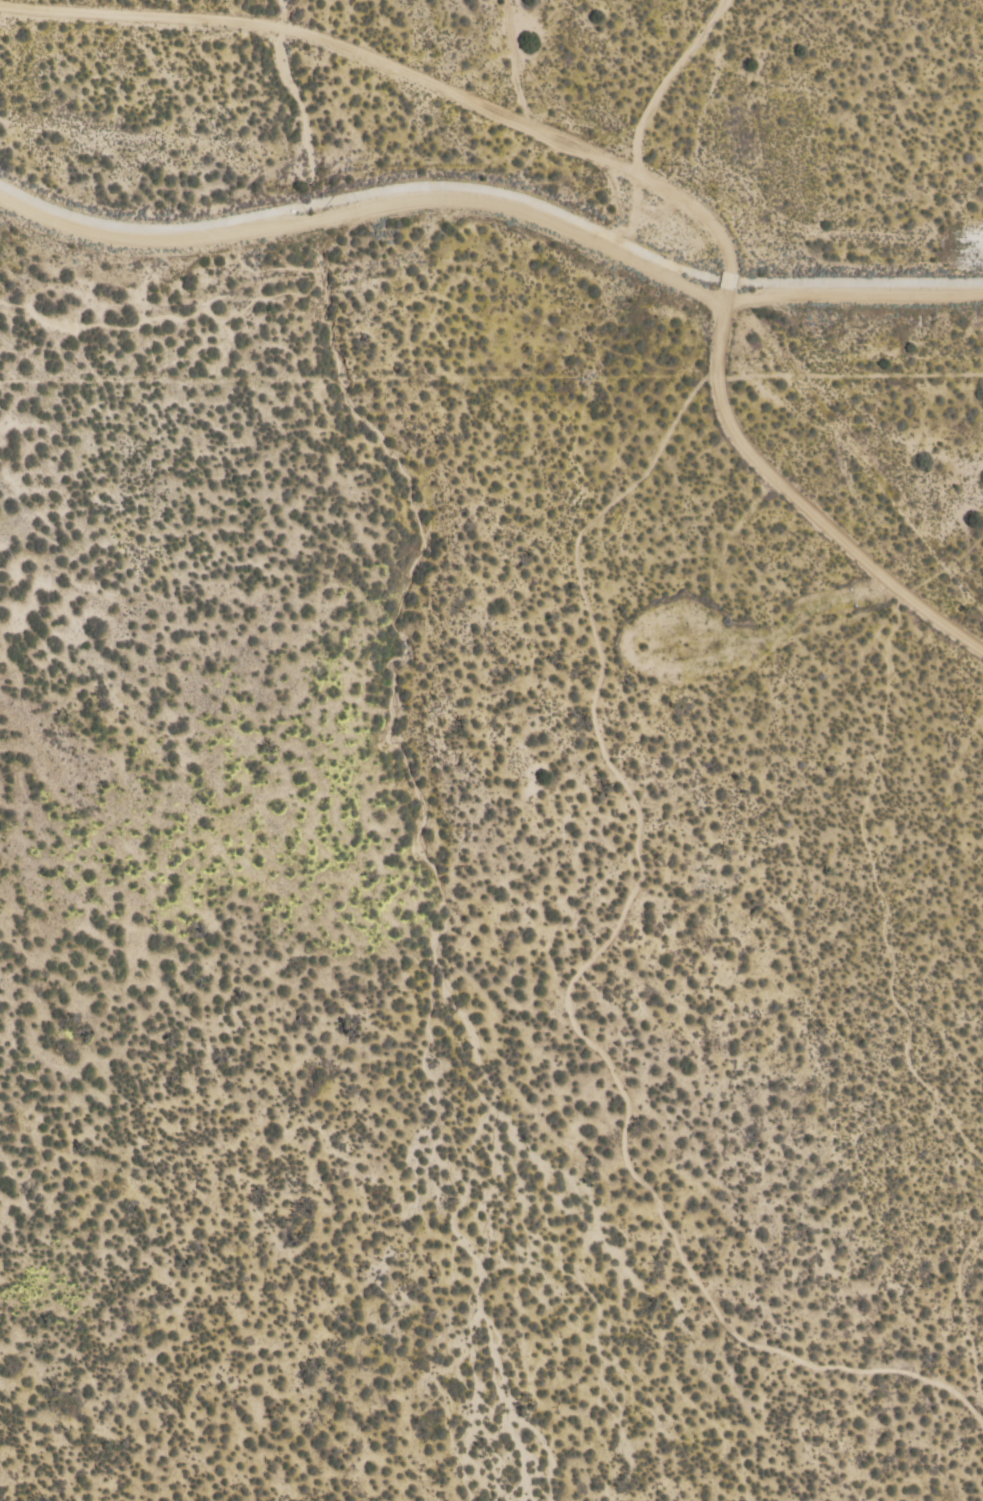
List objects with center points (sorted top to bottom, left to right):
road: (15, 26)
road: (367, 71)
road: (390, 160)
road: (367, 209)
road: (853, 294)
road: (795, 504)

